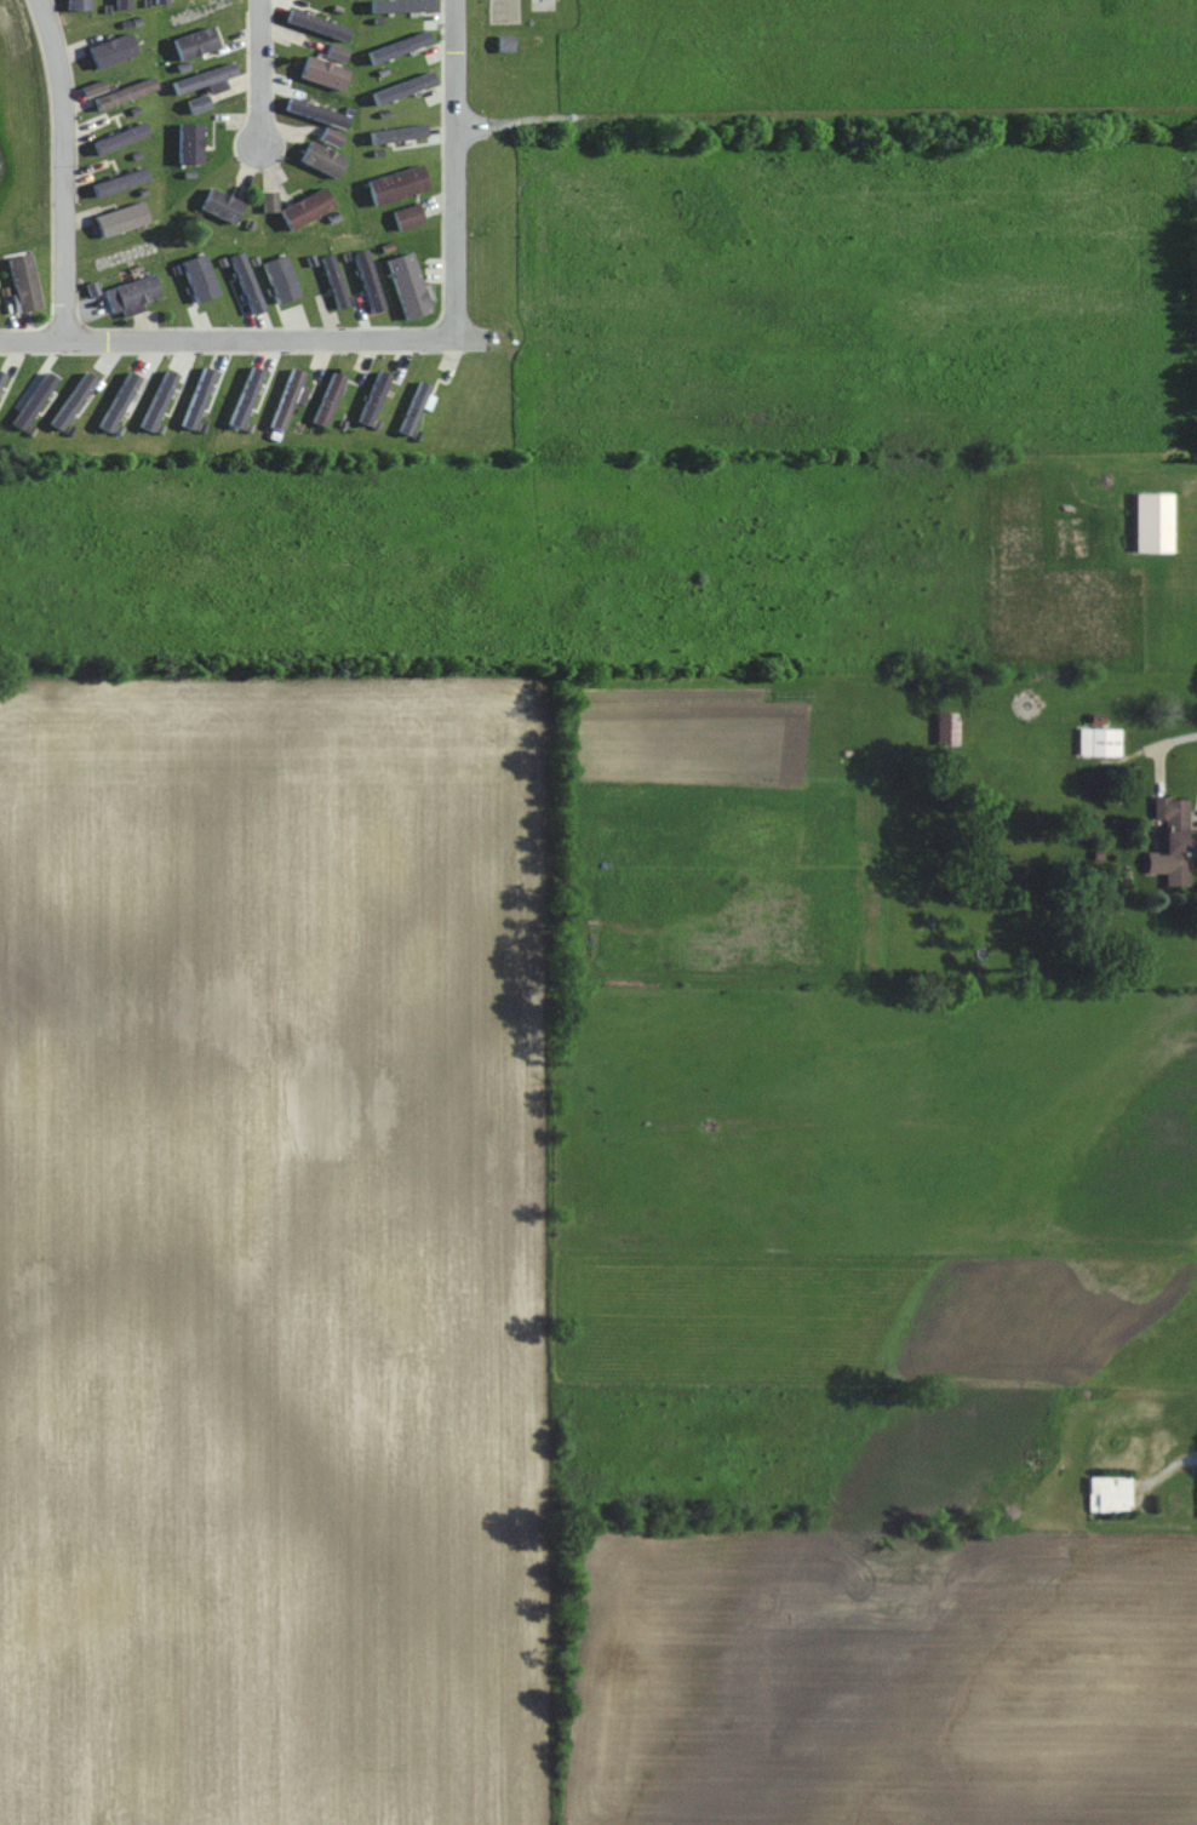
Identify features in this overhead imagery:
building: (79, 5)
building: (196, 44)
building: (504, 44)
building: (115, 51)
building: (336, 53)
road: (258, 74)
building: (323, 74)
building: (205, 80)
building: (125, 95)
building: (197, 104)
building: (331, 137)
building: (190, 144)
building: (322, 160)
road: (63, 168)
road: (454, 170)
building: (396, 185)
building: (269, 202)
building: (222, 207)
building: (307, 210)
building: (407, 217)
building: (121, 221)
building: (334, 282)
building: (24, 284)
building: (407, 285)
road: (236, 341)
building: (288, 399)
building: (328, 399)
building: (413, 407)
road: (1186, 486)
building: (1153, 522)
building: (949, 728)
building: (1100, 742)
building: (1176, 837)
road: (1165, 1472)
building: (1110, 1494)

